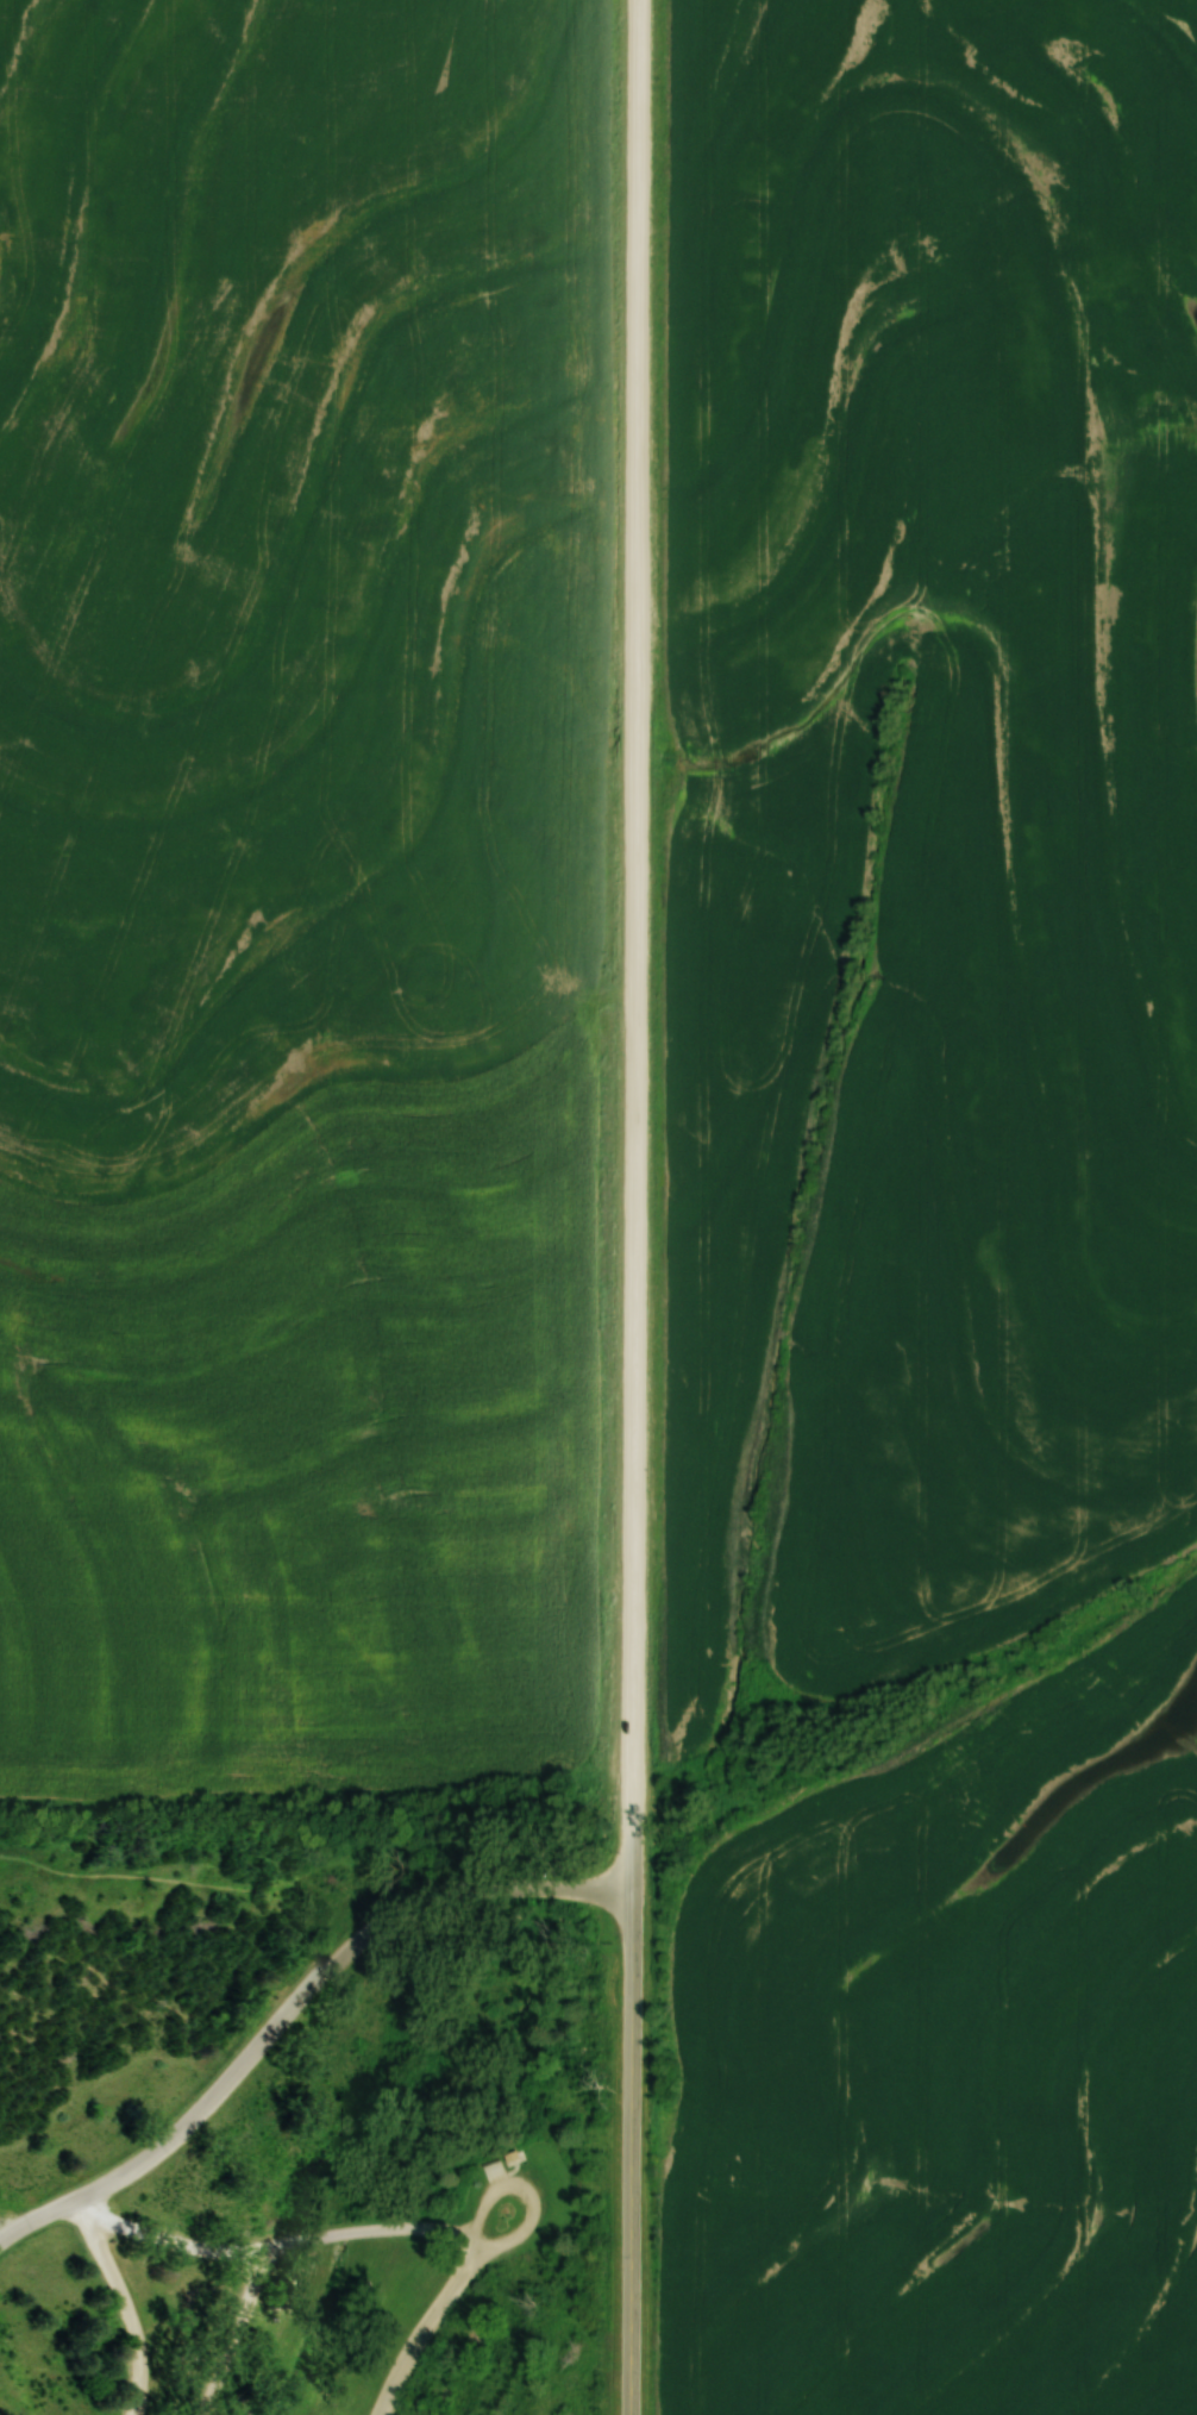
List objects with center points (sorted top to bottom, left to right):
road: (635, 899)
road: (633, 1842)
road: (212, 1862)
road: (92, 1970)
road: (290, 2003)
road: (189, 2057)
park: (315, 2104)
road: (632, 2151)
building: (487, 2163)
road: (526, 2194)
road: (5, 2225)
road: (475, 2238)
road: (272, 2242)
road: (519, 2283)
road: (123, 2302)
road: (239, 2329)
road: (422, 2329)
road: (553, 2363)
road: (496, 2371)

